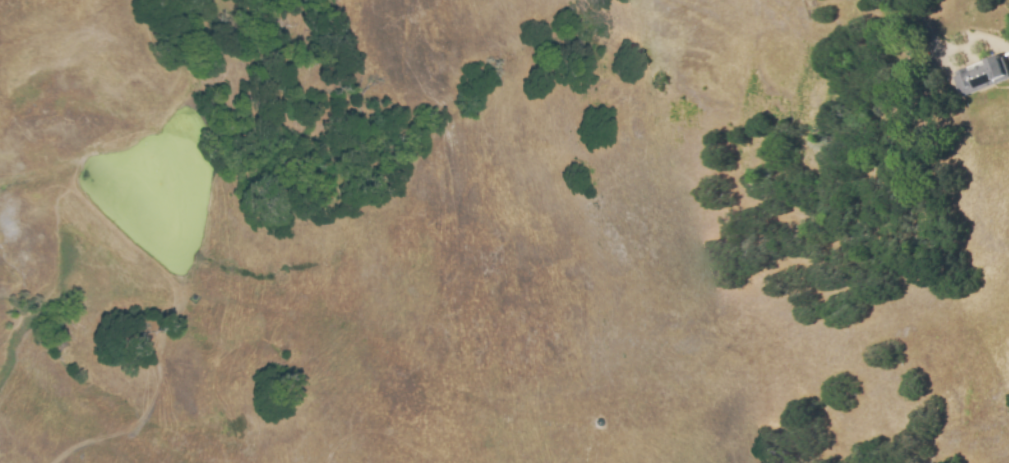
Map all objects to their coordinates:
road: (931, 39)
building: (980, 74)

